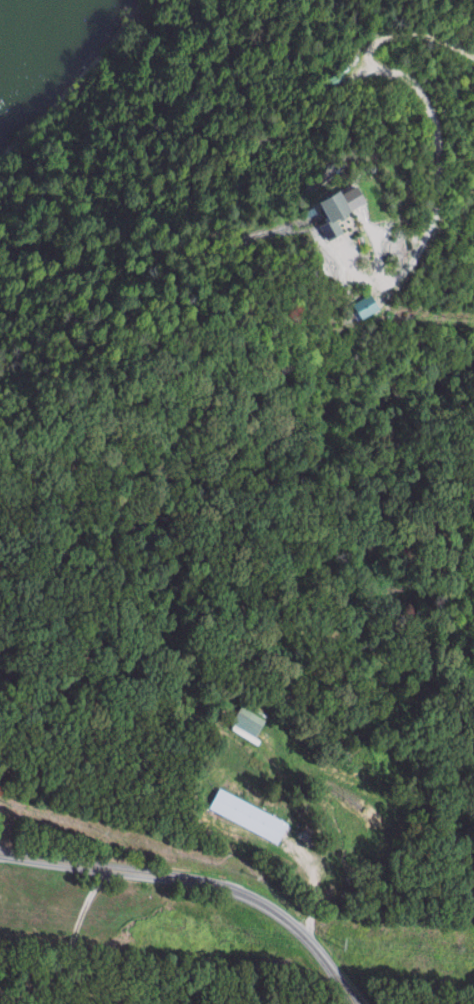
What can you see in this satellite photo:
road: (437, 132)
building: (335, 215)
building: (365, 306)
building: (247, 723)
building: (248, 814)
road: (203, 882)
road: (322, 883)
road: (88, 936)
power tower: (343, 942)

